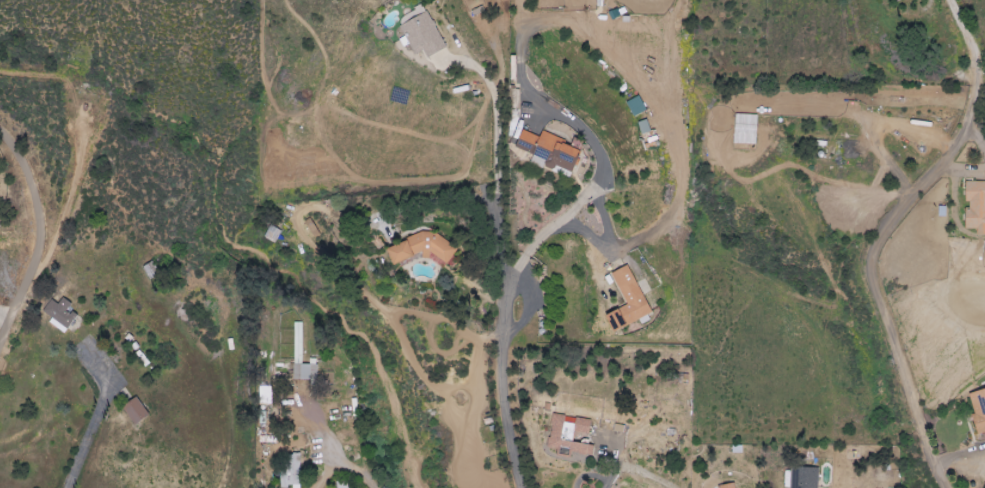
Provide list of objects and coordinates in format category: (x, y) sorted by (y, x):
building: (419, 32)
building: (546, 150)
road: (495, 160)
road: (441, 197)
road: (586, 198)
building: (974, 206)
road: (41, 232)
road: (887, 236)
building: (421, 247)
building: (625, 301)
road: (5, 314)
building: (59, 314)
building: (304, 372)
road: (508, 382)
building: (264, 395)
building: (978, 410)
building: (133, 411)
road: (92, 425)
building: (567, 436)
road: (345, 466)
road: (614, 467)
building: (289, 470)
building: (802, 478)
building: (726, 486)

